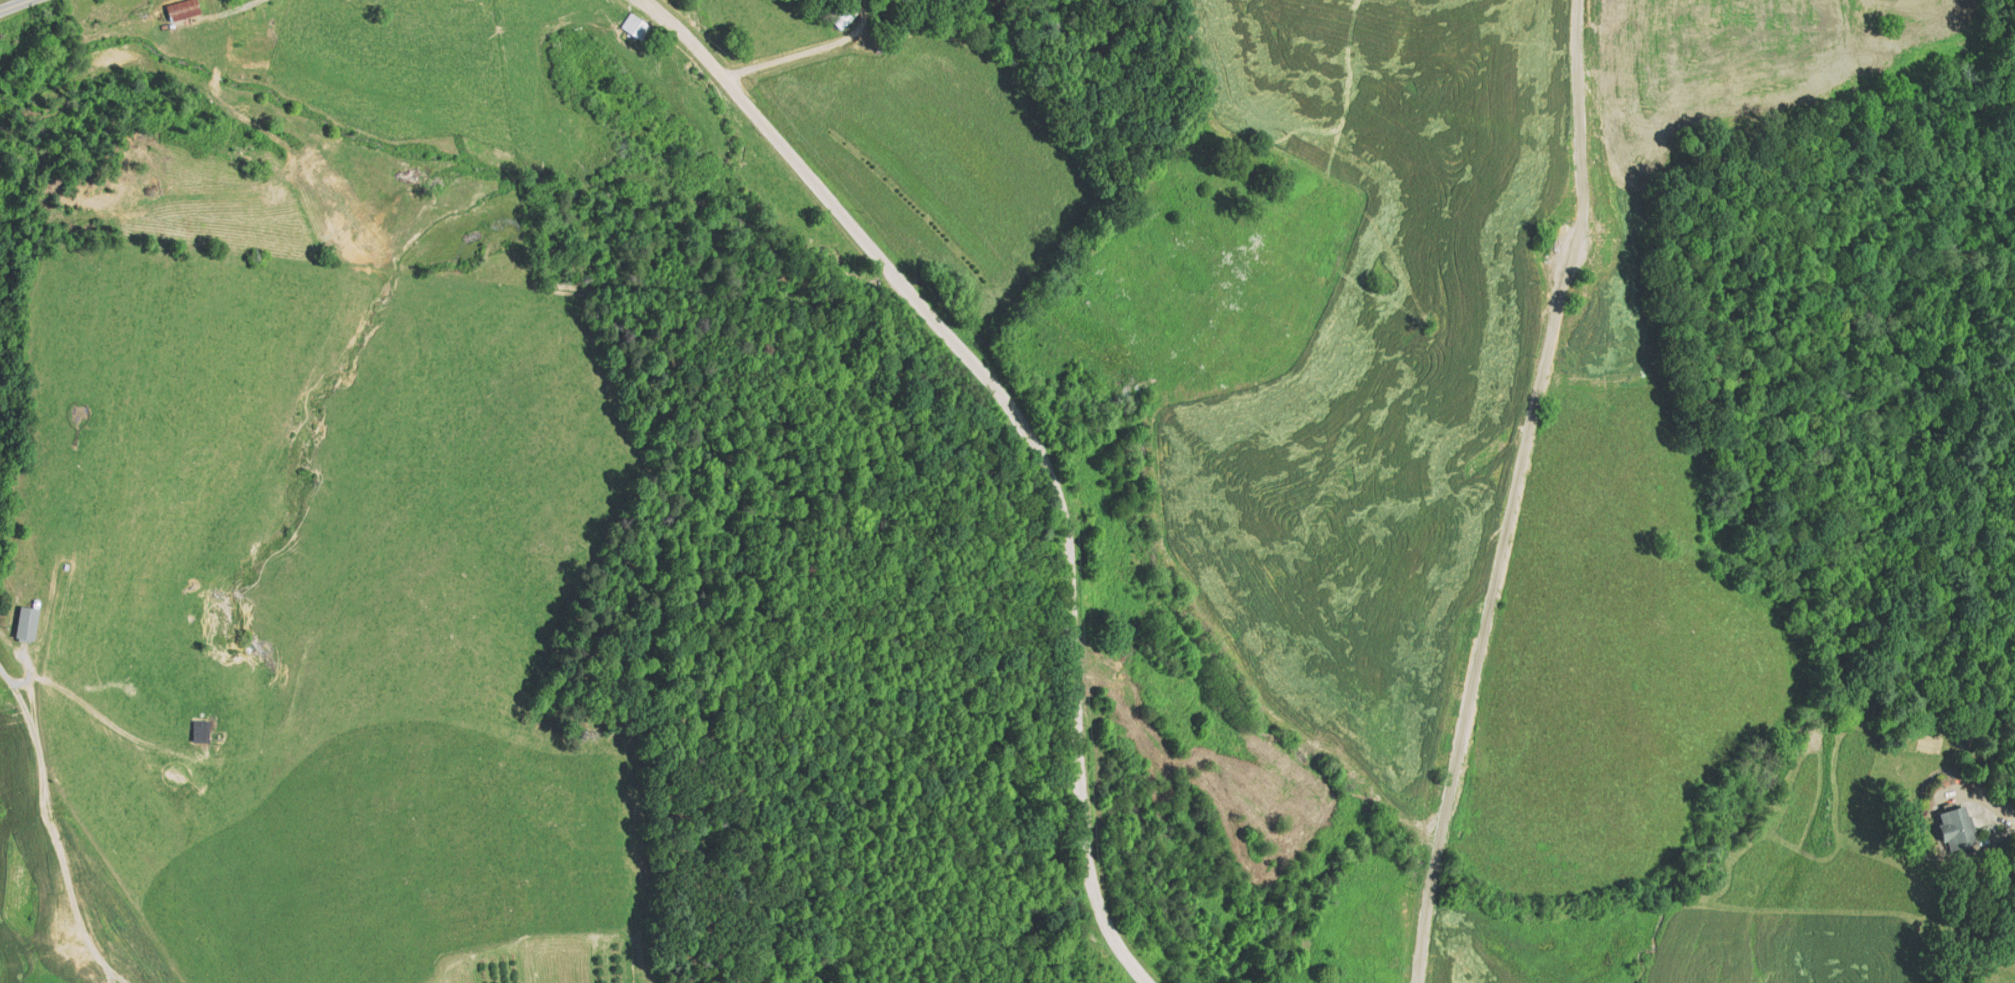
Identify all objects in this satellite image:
road: (22, 5)
building: (181, 10)
building: (607, 16)
building: (838, 22)
road: (797, 55)
road: (990, 429)
road: (1526, 432)
building: (30, 625)
building: (199, 731)
road: (122, 733)
building: (1953, 829)
road: (34, 830)
road: (1429, 885)
road: (1420, 945)

